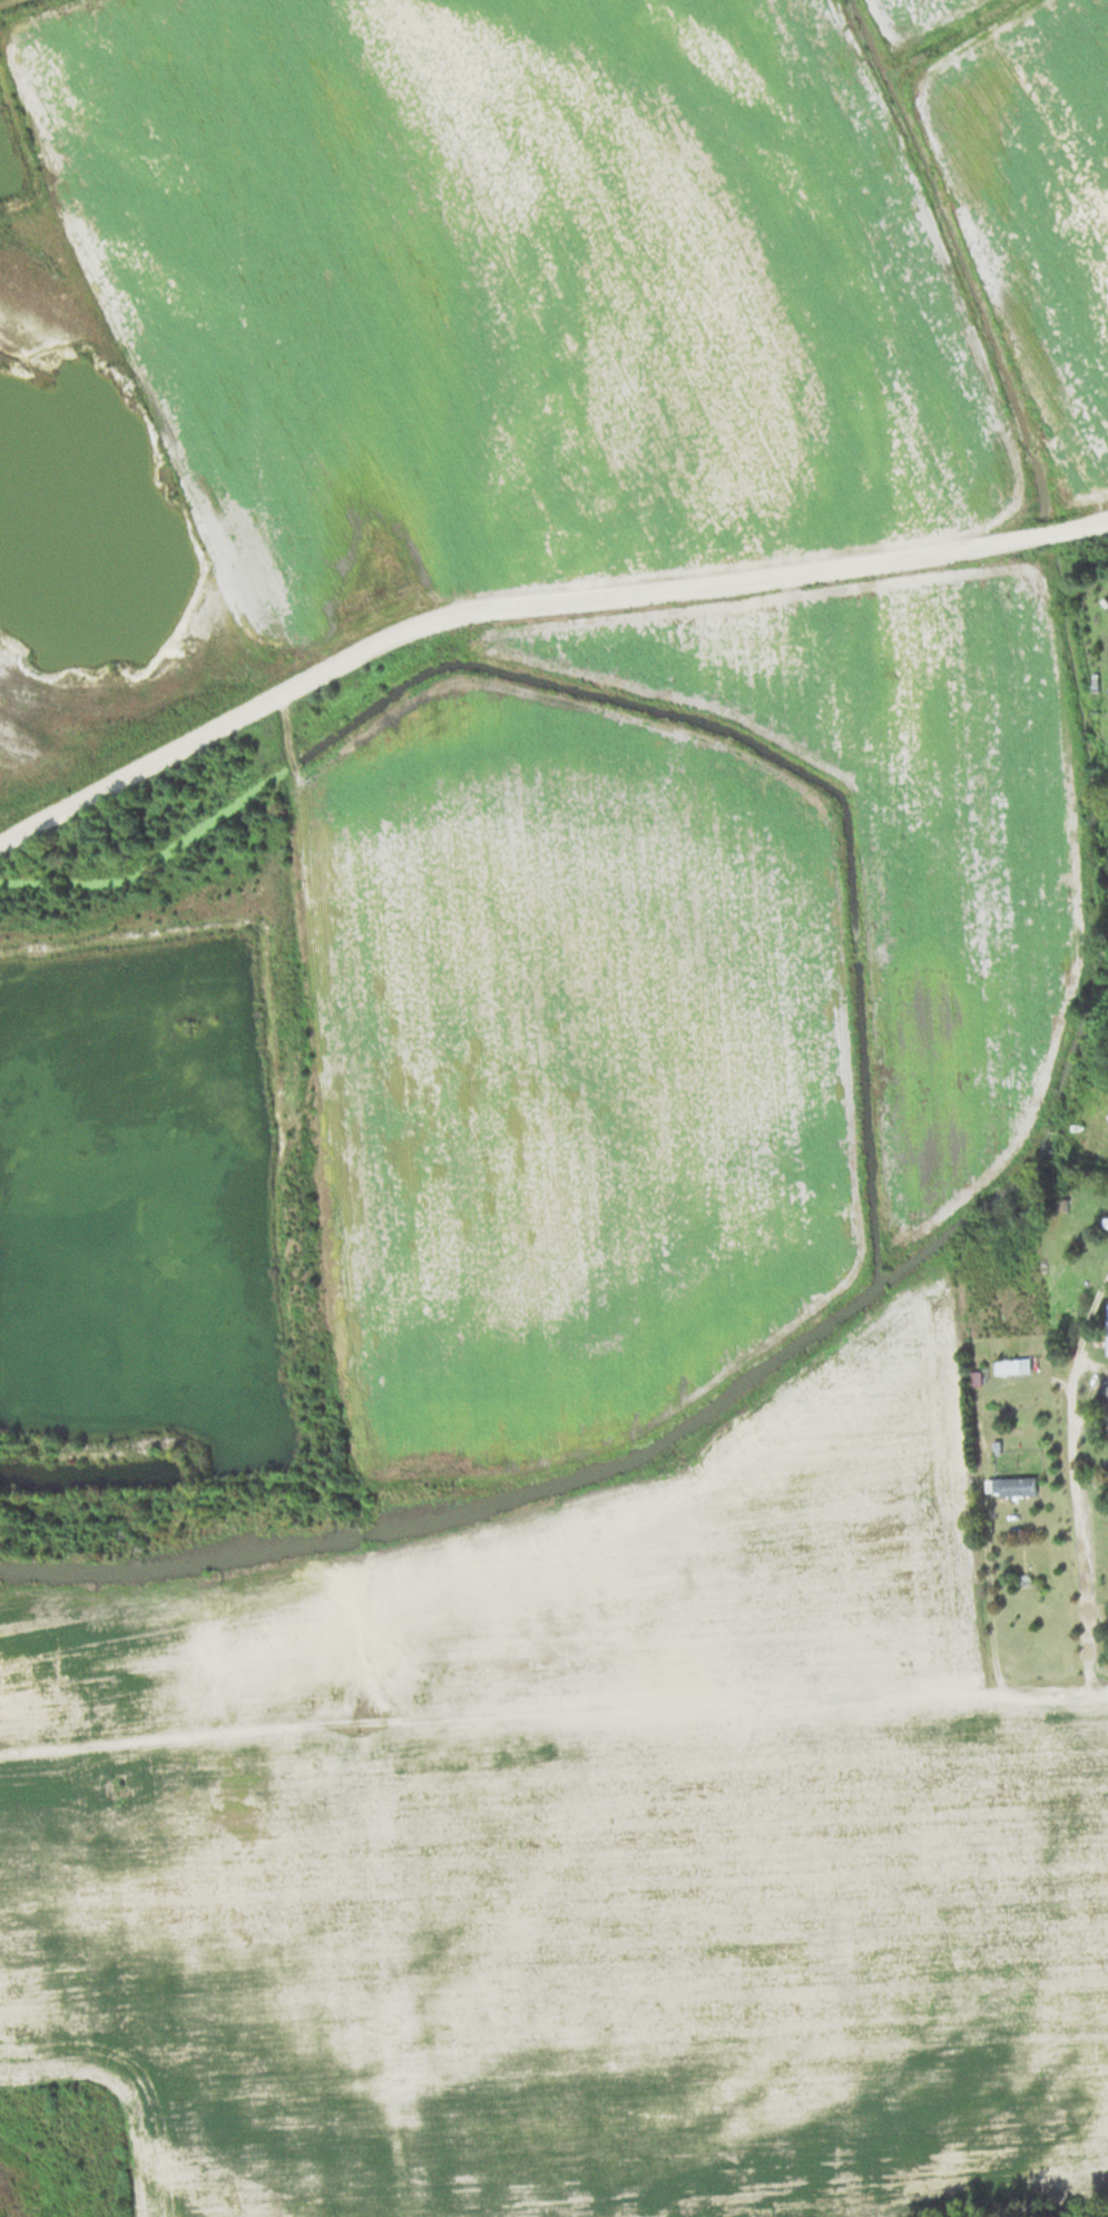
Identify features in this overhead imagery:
road: (284, 859)
building: (1105, 1222)
building: (1107, 1326)
building: (1011, 1364)
building: (1104, 1399)
road: (1075, 1474)
building: (1010, 1484)
road: (980, 1490)
building: (1107, 1619)
road: (742, 1694)
road: (188, 1729)

